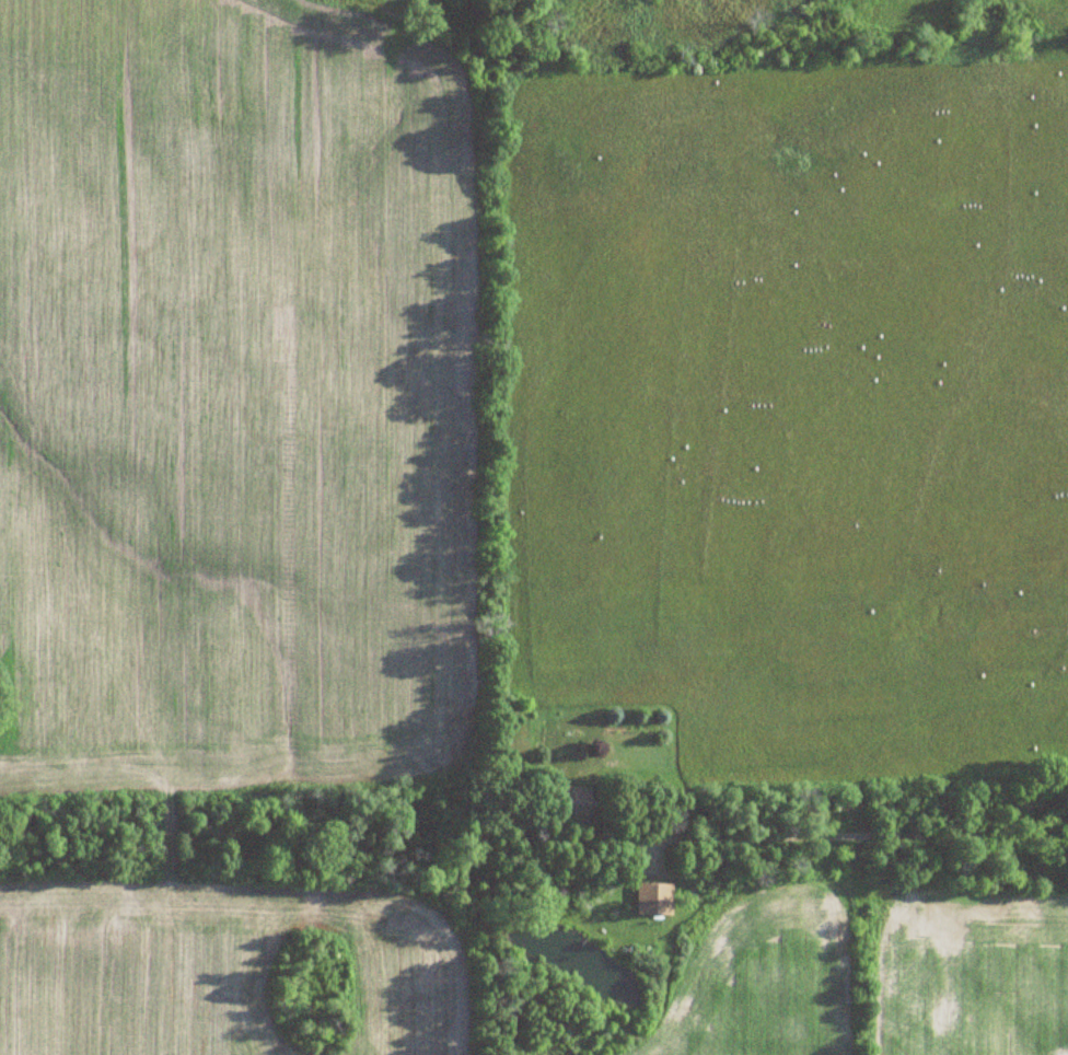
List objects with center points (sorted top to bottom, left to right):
crop: (793, 420)
building: (571, 804)
road: (840, 834)
building: (650, 900)
crop: (875, 971)

